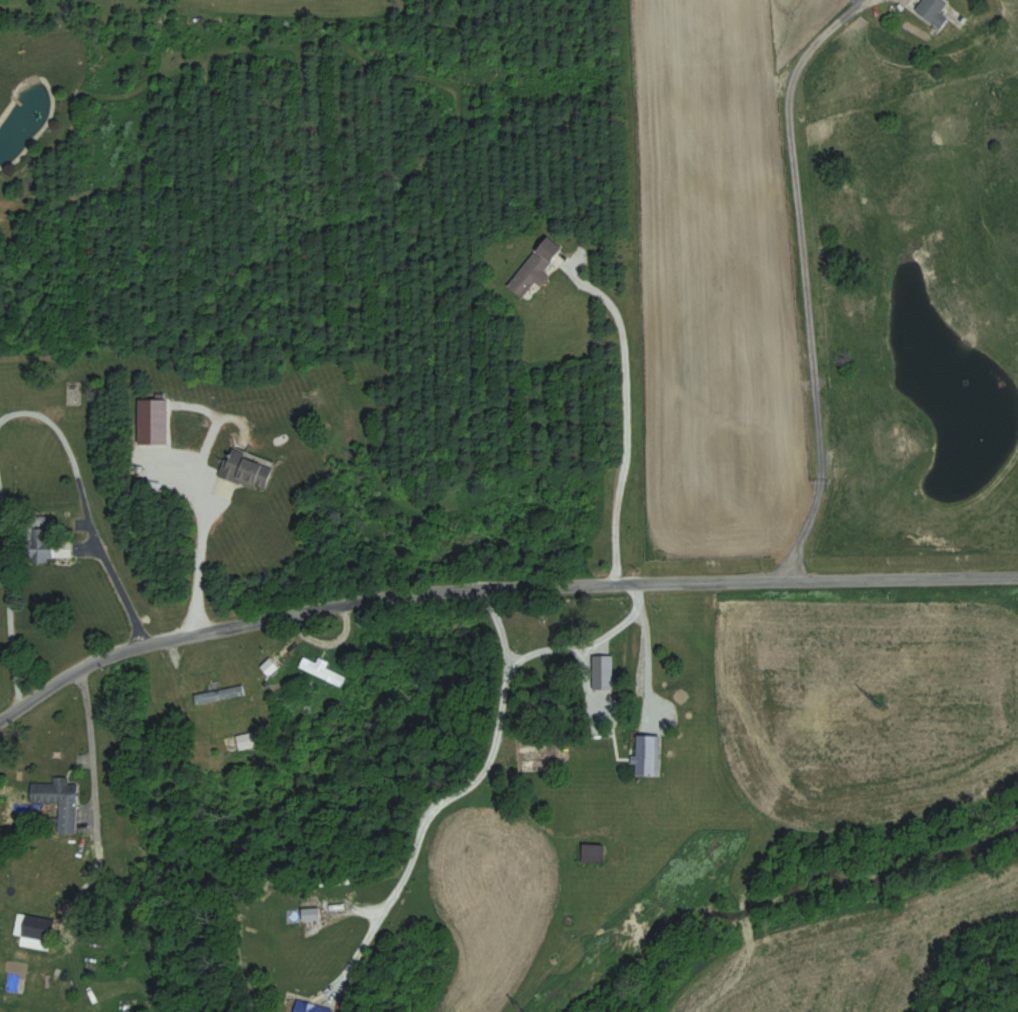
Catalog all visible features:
building: (933, 11)
building: (535, 267)
road: (805, 278)
road: (618, 404)
building: (152, 421)
building: (246, 470)
road: (87, 510)
building: (49, 544)
road: (197, 554)
road: (496, 588)
road: (7, 611)
road: (581, 653)
road: (644, 661)
building: (321, 670)
building: (605, 680)
building: (219, 694)
road: (98, 744)
road: (446, 801)
building: (59, 802)
building: (593, 854)
building: (34, 930)
building: (303, 1005)
power tower: (525, 1010)

